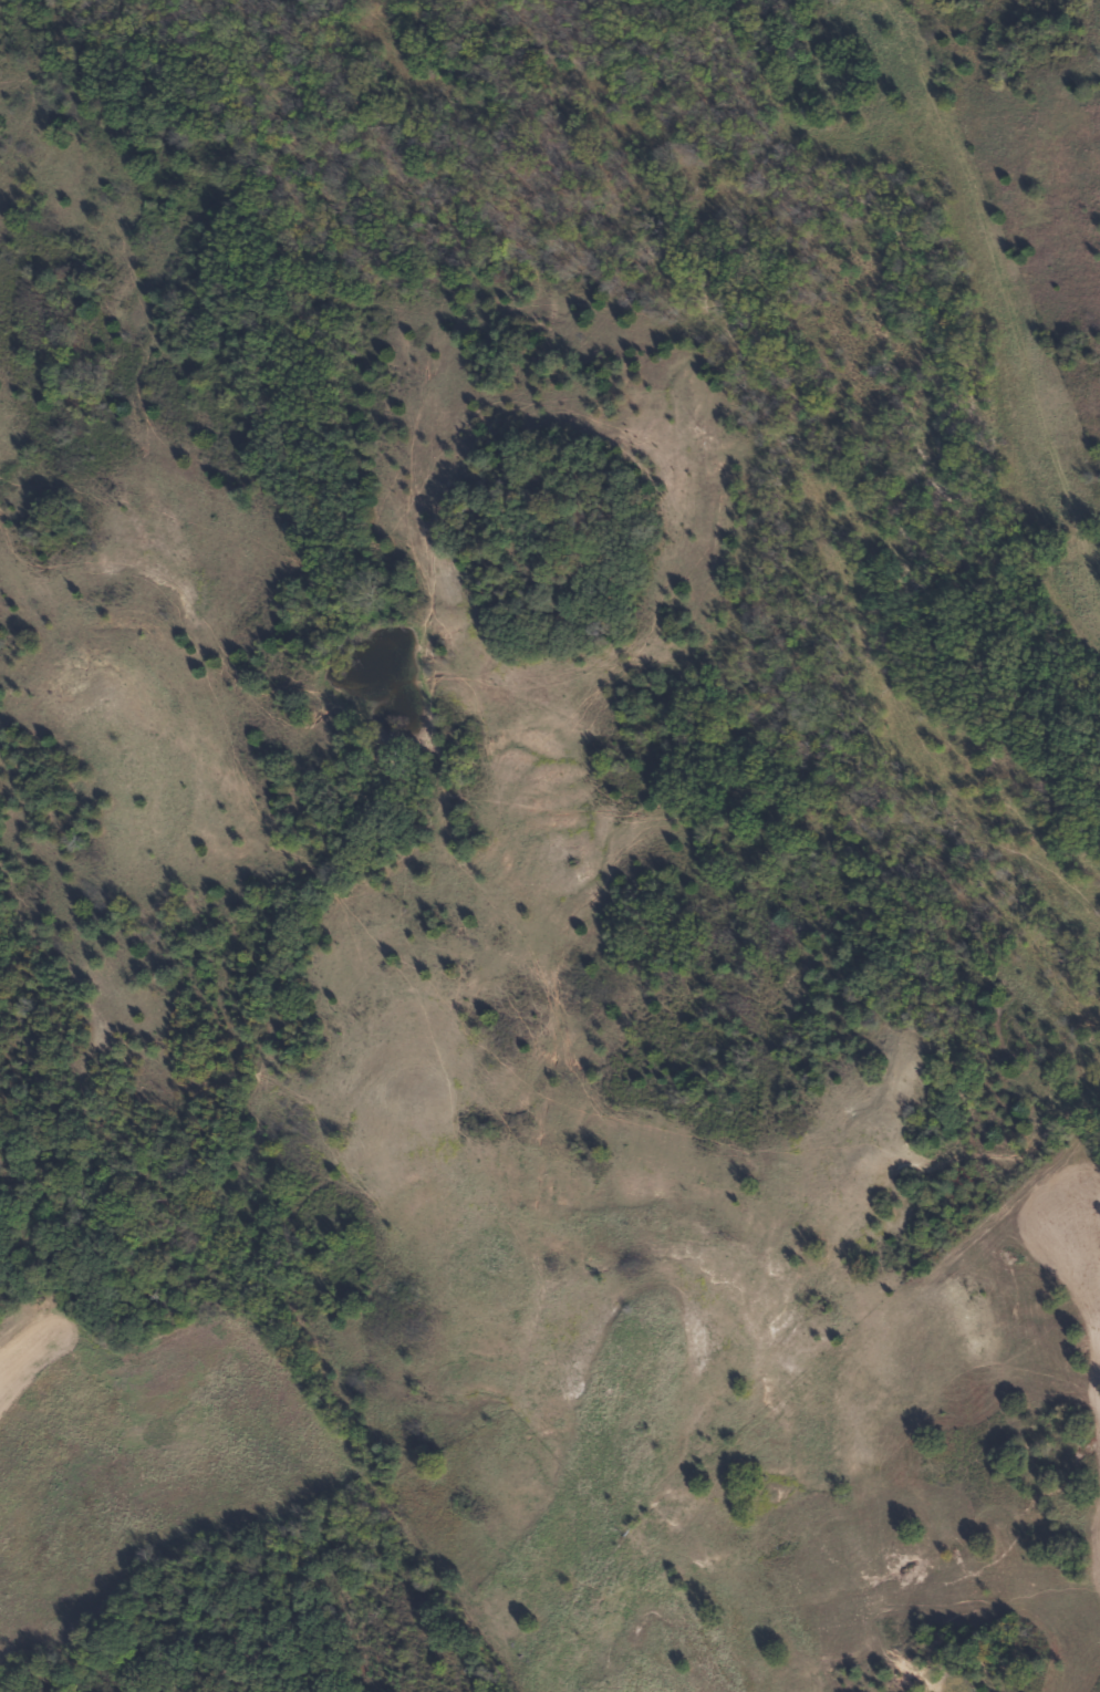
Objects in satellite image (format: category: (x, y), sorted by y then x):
building: (588, 1601)

